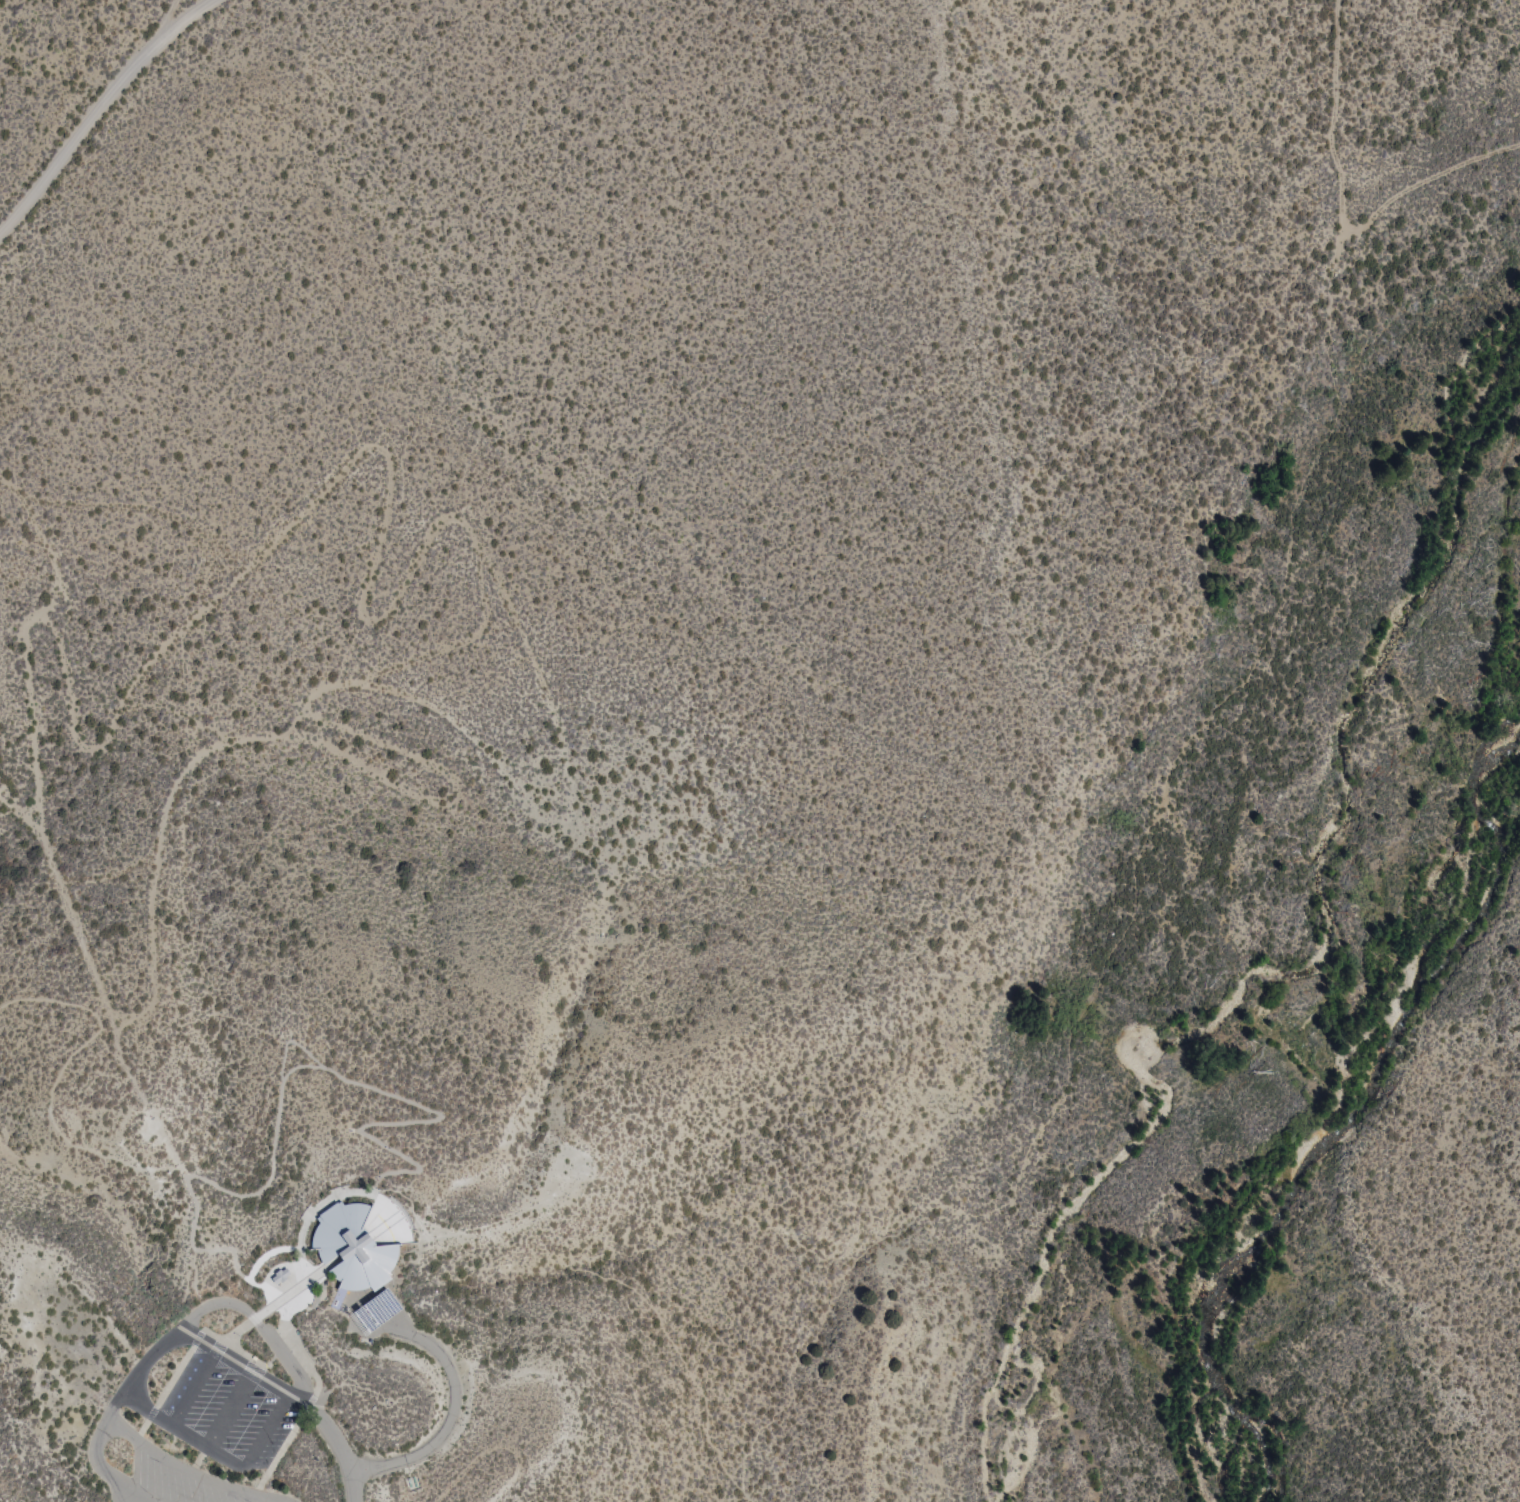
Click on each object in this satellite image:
road: (100, 108)
road: (1335, 130)
road: (1410, 180)
road: (1118, 932)
road: (91, 958)
road: (164, 963)
road: (53, 1004)
road: (291, 1041)
road: (371, 1090)
road: (149, 1166)
road: (302, 1227)
road: (598, 1236)
building: (353, 1250)
building: (279, 1275)
road: (264, 1310)
road: (168, 1340)
road: (285, 1361)
road: (452, 1395)
road: (290, 1396)
parking lot: (205, 1440)
road: (219, 1454)
road: (101, 1471)
road: (188, 1472)
road: (123, 1496)

